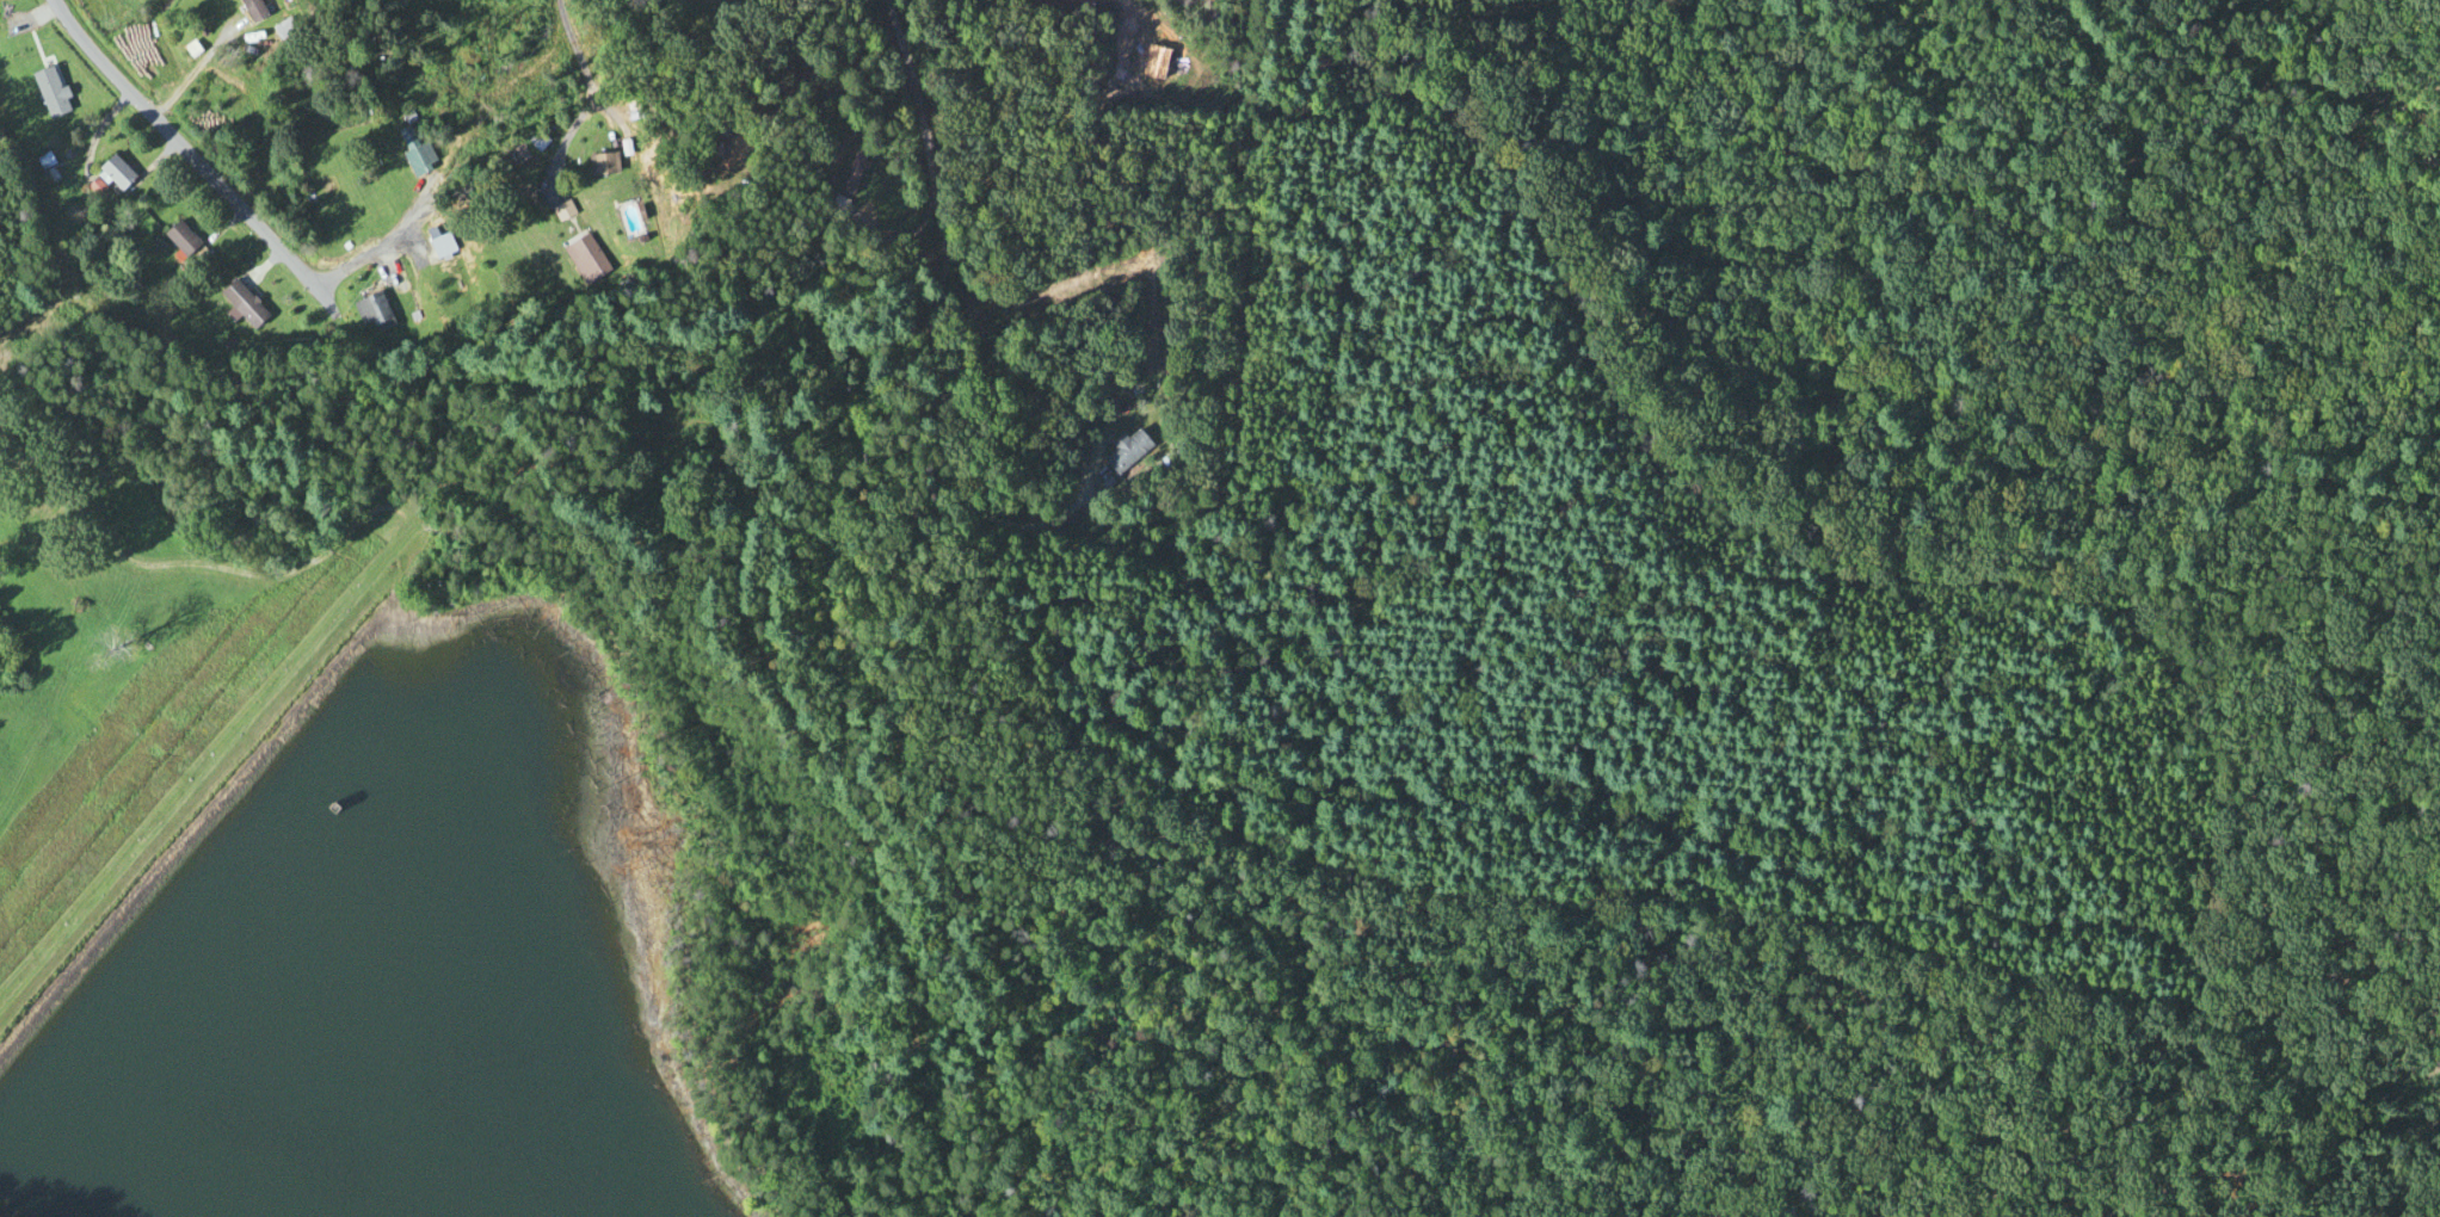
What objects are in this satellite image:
building: (249, 11)
building: (281, 29)
building: (1142, 52)
road: (190, 74)
road: (589, 82)
building: (47, 93)
building: (713, 134)
road: (920, 138)
building: (532, 142)
road: (177, 155)
building: (507, 159)
building: (598, 165)
building: (848, 173)
building: (112, 174)
building: (627, 220)
building: (178, 239)
road: (369, 240)
building: (437, 246)
building: (580, 259)
building: (240, 304)
building: (368, 311)
building: (1123, 451)
road: (75, 472)
building: (155, 544)

